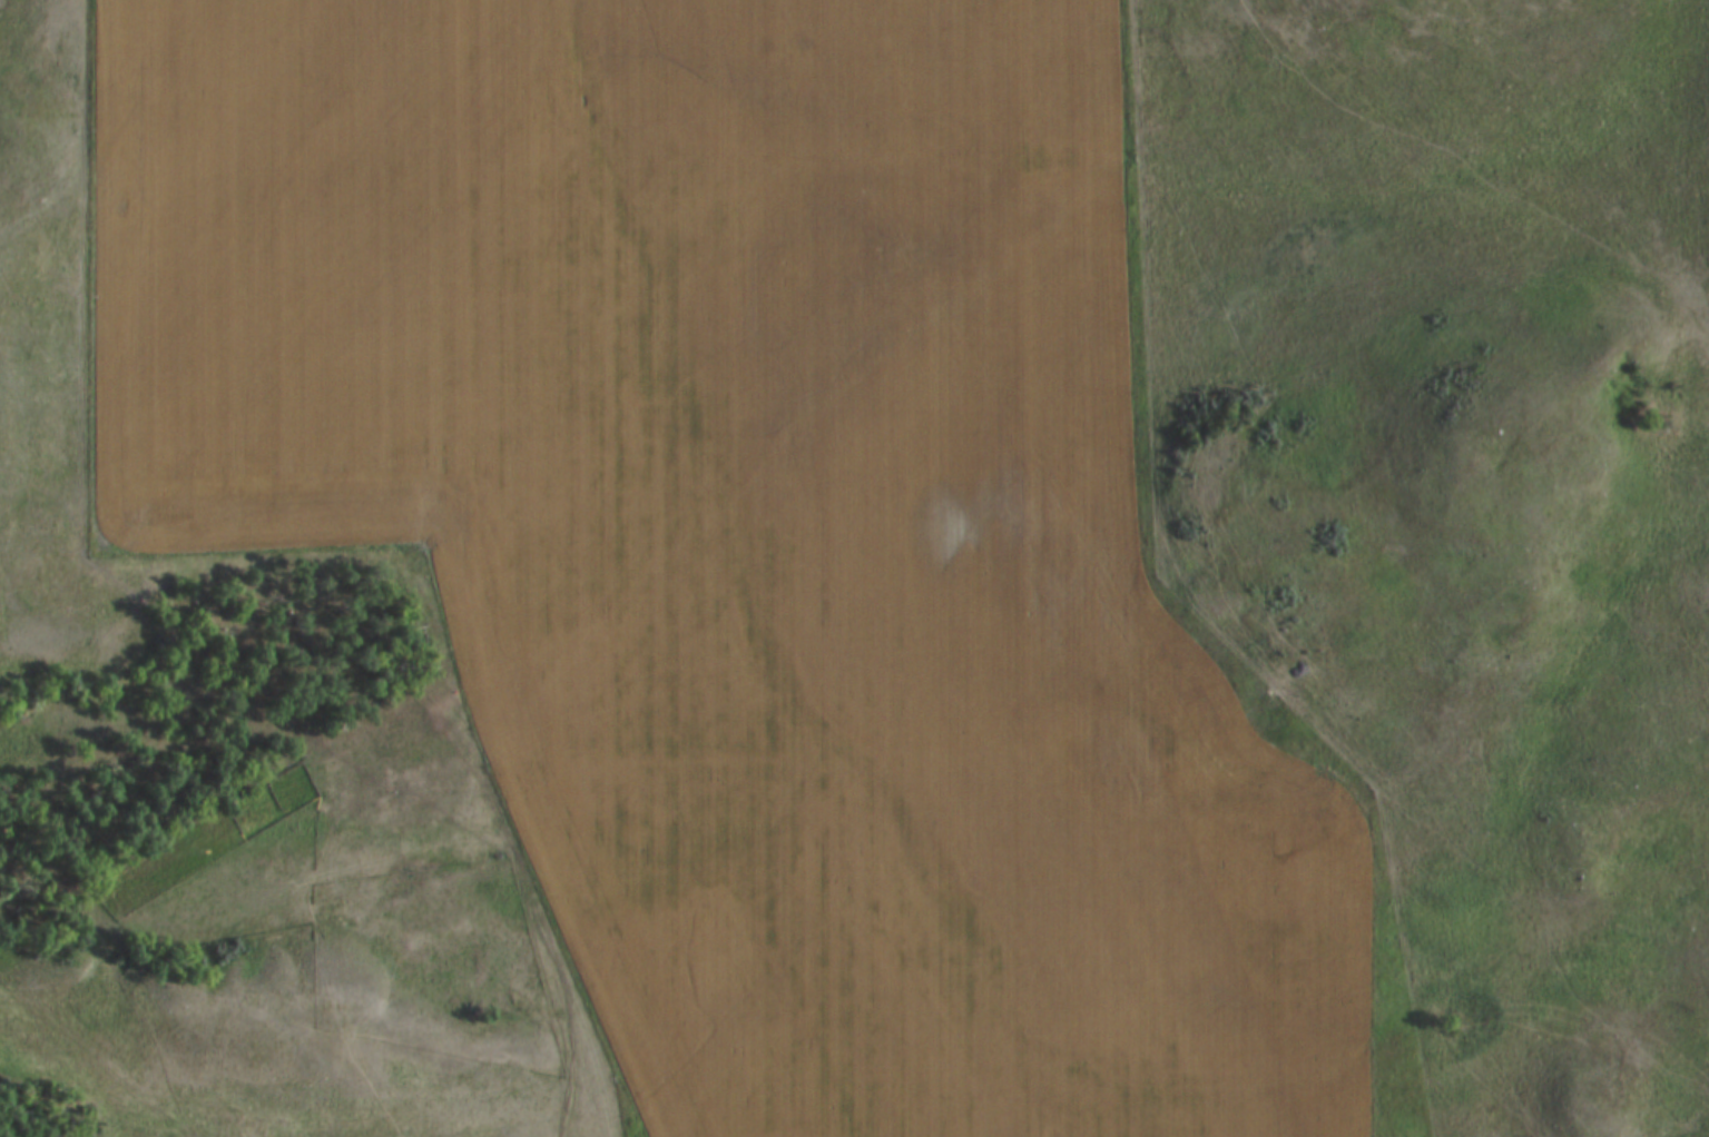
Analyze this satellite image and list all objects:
road: (382, 547)

